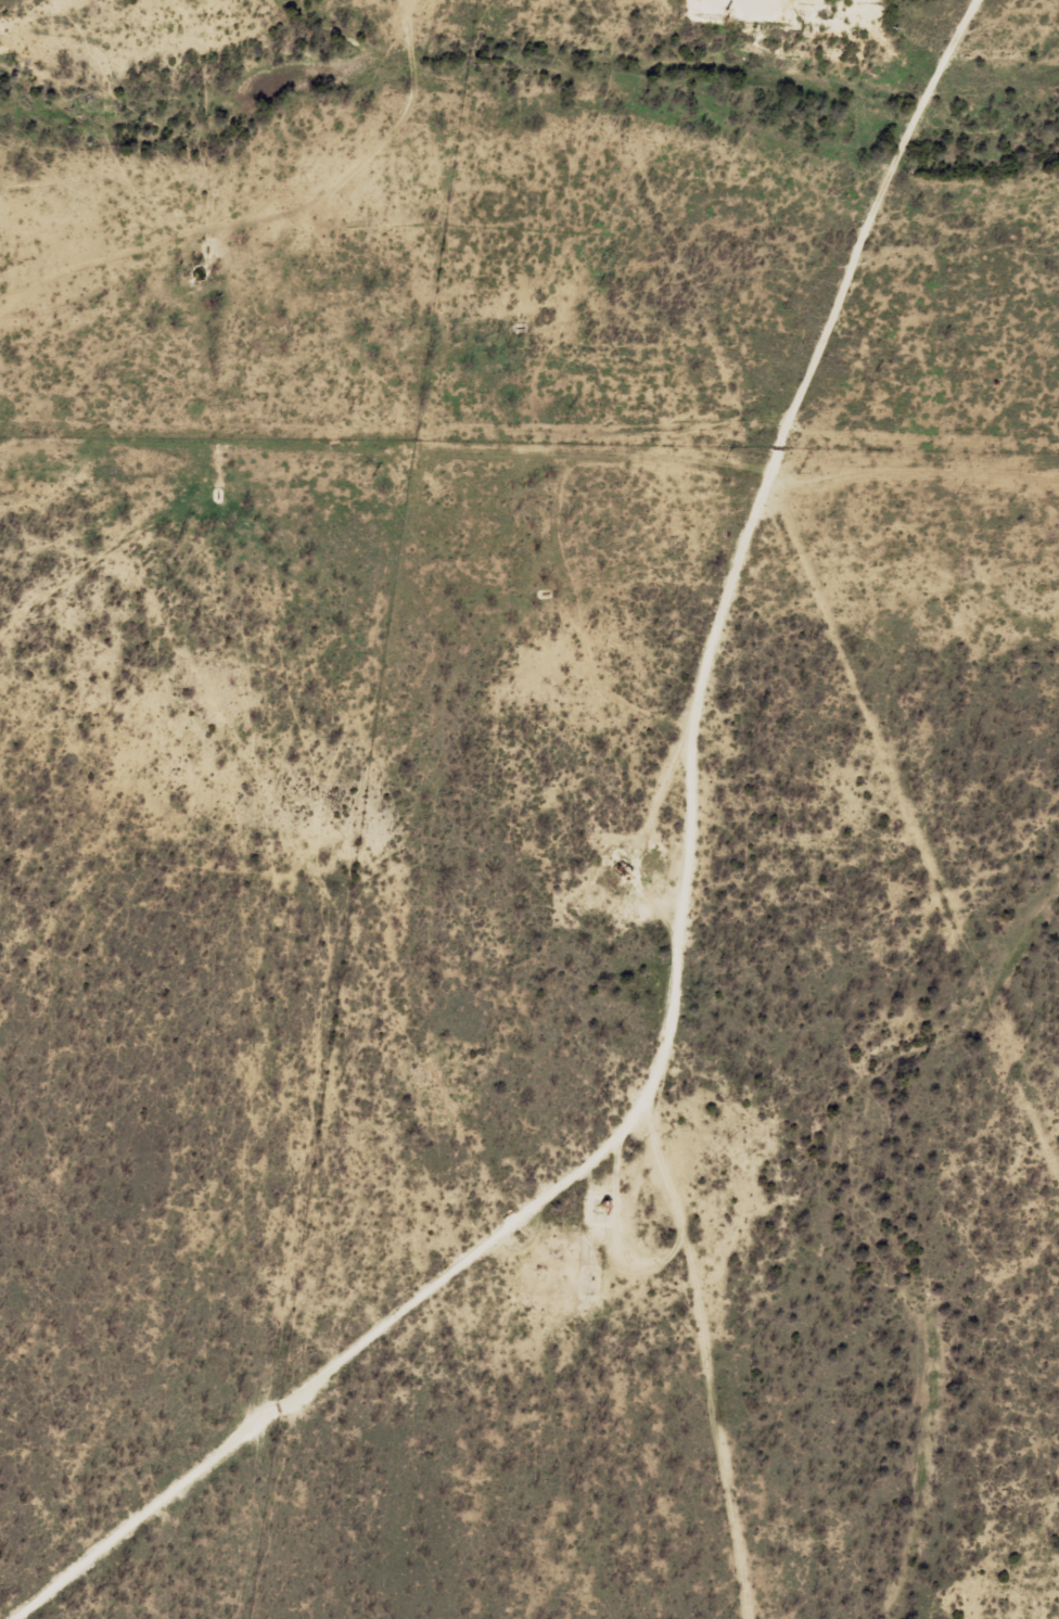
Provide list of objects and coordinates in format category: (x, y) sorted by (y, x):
road: (244, 228)
road: (724, 964)
road: (735, 1364)

